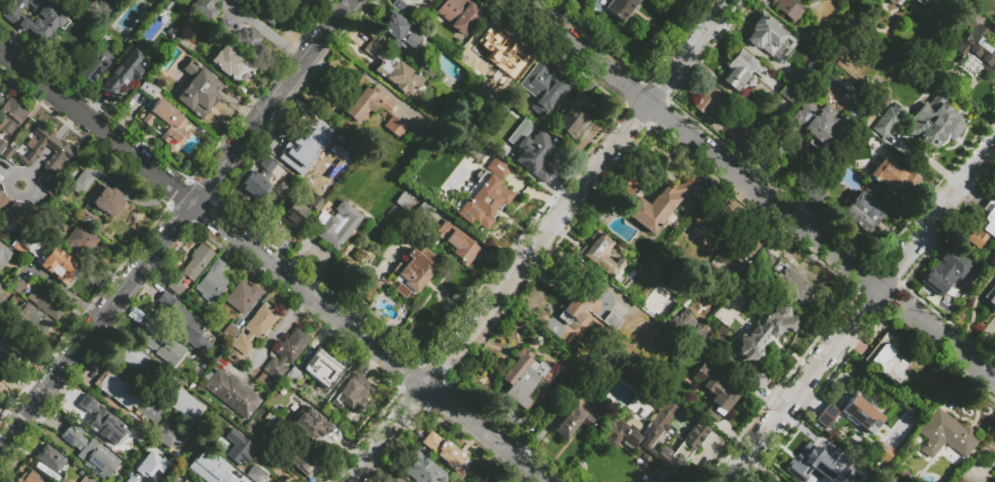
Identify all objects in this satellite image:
building: (411, 0)
building: (427, 0)
building: (807, 1)
building: (920, 1)
building: (935, 1)
building: (298, 2)
building: (894, 2)
building: (950, 2)
building: (153, 4)
building: (399, 6)
building: (613, 7)
building: (205, 8)
road: (247, 8)
building: (786, 9)
road: (231, 13)
building: (273, 14)
building: (457, 15)
building: (34, 17)
building: (157, 24)
building: (222, 30)
building: (398, 30)
building: (765, 34)
building: (184, 39)
road: (276, 39)
building: (249, 40)
building: (371, 48)
road: (581, 51)
building: (975, 51)
road: (687, 52)
building: (497, 59)
building: (96, 60)
building: (943, 60)
building: (230, 62)
building: (425, 67)
building: (740, 69)
building: (123, 70)
building: (402, 80)
building: (543, 87)
building: (148, 89)
building: (198, 90)
building: (788, 93)
building: (1, 101)
building: (707, 101)
building: (368, 103)
building: (11, 116)
building: (572, 116)
building: (886, 120)
building: (166, 121)
road: (67, 123)
building: (933, 125)
building: (394, 126)
building: (811, 131)
building: (751, 140)
road: (52, 142)
building: (301, 147)
building: (489, 155)
building: (534, 155)
building: (62, 159)
road: (33, 166)
building: (889, 174)
building: (259, 179)
building: (81, 183)
building: (478, 189)
building: (0, 193)
road: (762, 197)
building: (108, 198)
building: (813, 199)
building: (315, 203)
building: (659, 205)
building: (863, 210)
building: (294, 213)
building: (425, 213)
building: (8, 219)
road: (176, 222)
building: (336, 224)
building: (982, 226)
building: (82, 241)
building: (454, 242)
building: (18, 246)
building: (747, 246)
building: (774, 248)
building: (4, 254)
building: (607, 260)
road: (272, 265)
building: (58, 266)
building: (341, 266)
building: (191, 267)
building: (413, 271)
building: (944, 272)
building: (211, 282)
building: (792, 285)
building: (17, 287)
building: (1, 289)
building: (369, 290)
road: (499, 293)
building: (990, 294)
building: (242, 296)
building: (49, 302)
building: (576, 304)
road: (860, 311)
building: (661, 319)
building: (33, 320)
building: (611, 320)
building: (184, 324)
building: (887, 325)
building: (689, 326)
building: (881, 328)
building: (254, 329)
road: (276, 330)
building: (765, 332)
road: (936, 335)
building: (722, 337)
building: (155, 339)
building: (13, 345)
building: (286, 353)
building: (889, 359)
building: (135, 360)
building: (321, 369)
building: (292, 377)
building: (522, 377)
building: (755, 378)
building: (3, 379)
building: (715, 388)
building: (233, 394)
building: (352, 394)
building: (125, 395)
building: (182, 402)
building: (87, 410)
building: (862, 414)
building: (826, 415)
building: (572, 419)
building: (313, 424)
building: (279, 428)
building: (112, 432)
building: (166, 433)
building: (530, 434)
building: (945, 435)
building: (72, 436)
building: (632, 437)
building: (235, 447)
building: (890, 449)
building: (447, 453)
building: (50, 458)
building: (96, 460)
building: (302, 461)
building: (149, 463)
building: (827, 465)
building: (213, 469)
building: (424, 471)
building: (255, 474)
building: (29, 477)
building: (87, 478)
building: (900, 478)
building: (128, 479)
building: (63, 480)
building: (172, 480)
building: (185, 480)
building: (396, 480)
building: (959, 480)
building: (823, 481)

